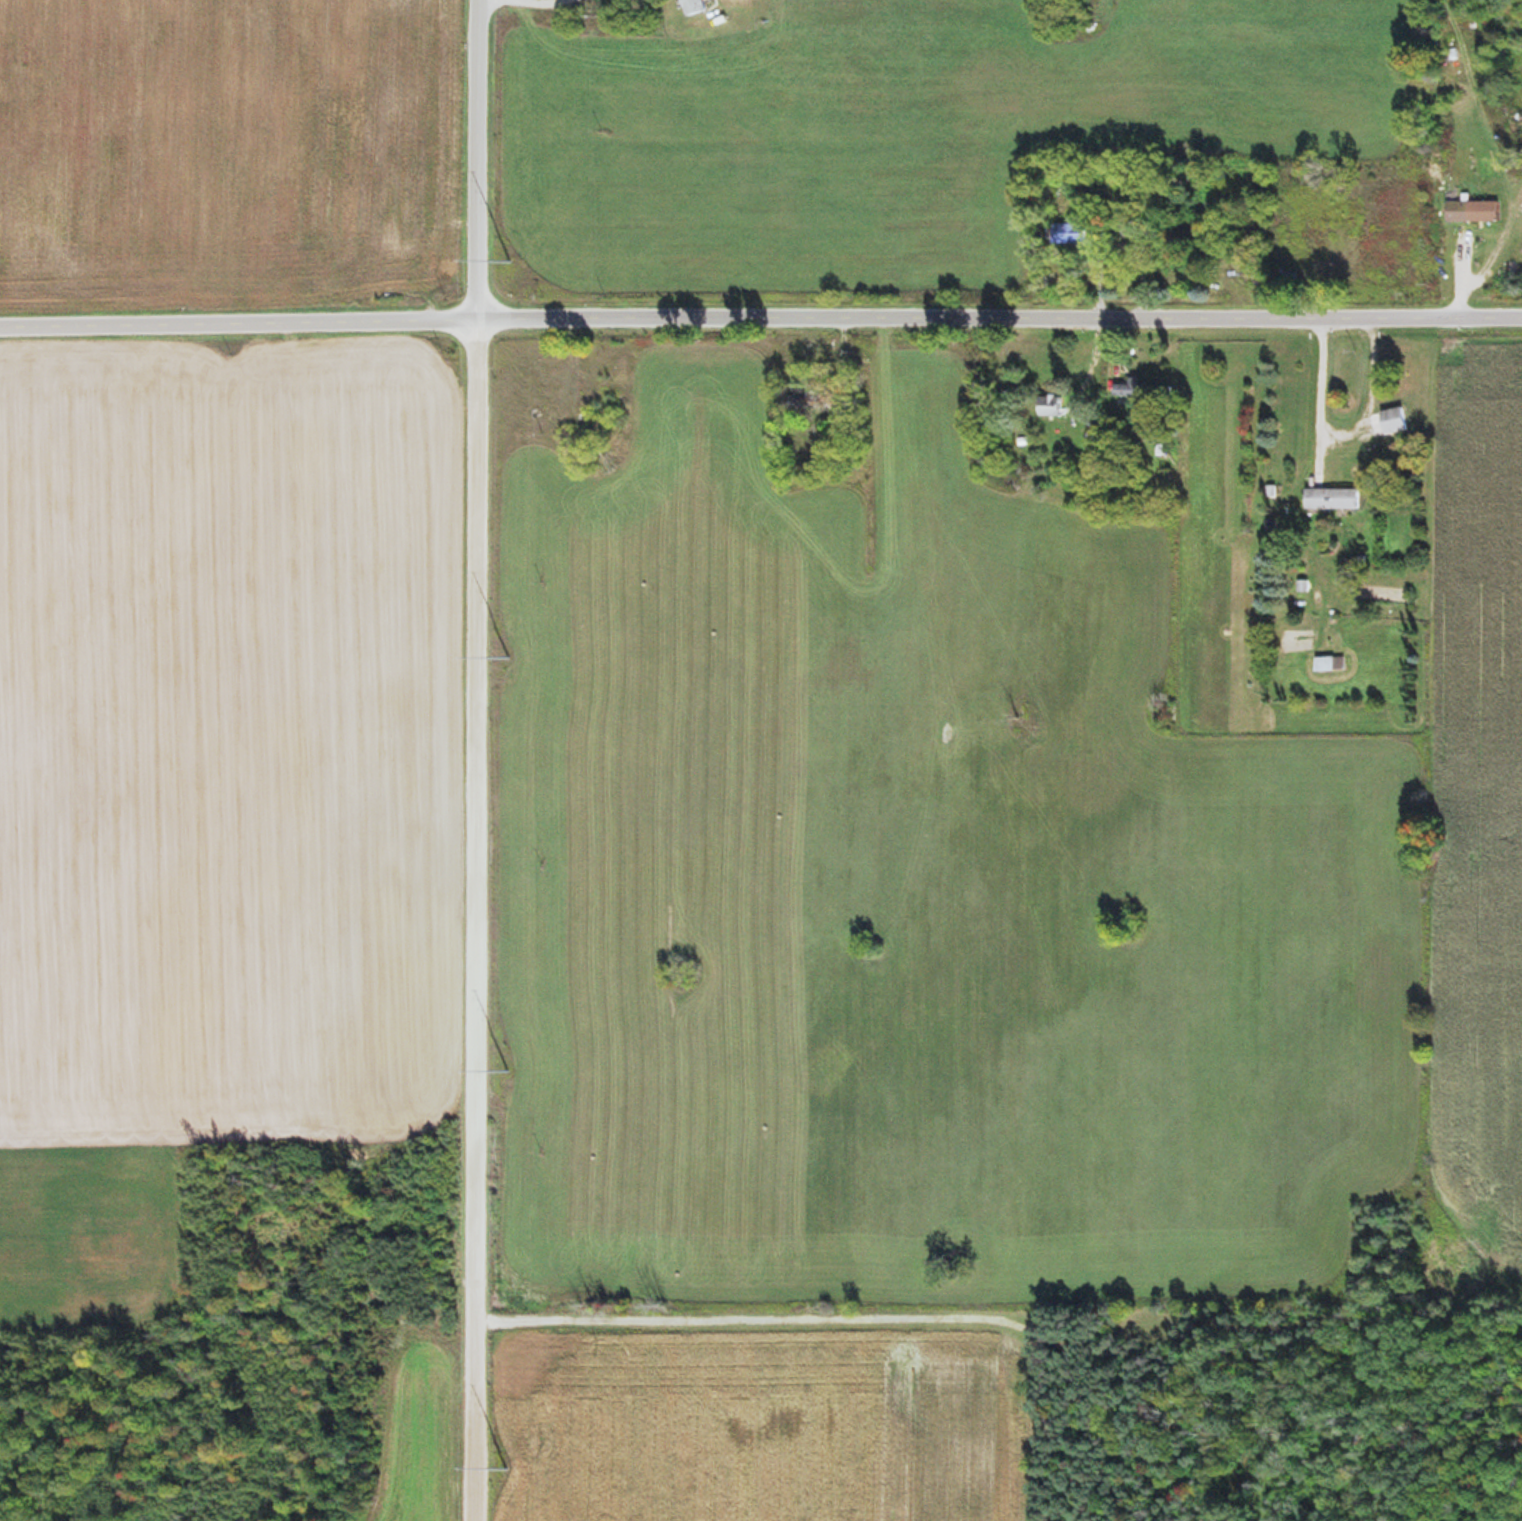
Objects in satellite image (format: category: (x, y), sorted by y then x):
building: (690, 7)
building: (1469, 212)
building: (1209, 224)
building: (1064, 234)
building: (397, 252)
road: (760, 328)
building: (1139, 394)
building: (799, 400)
building: (1047, 406)
building: (1387, 422)
building: (1329, 498)
building: (1327, 663)
road: (471, 760)

